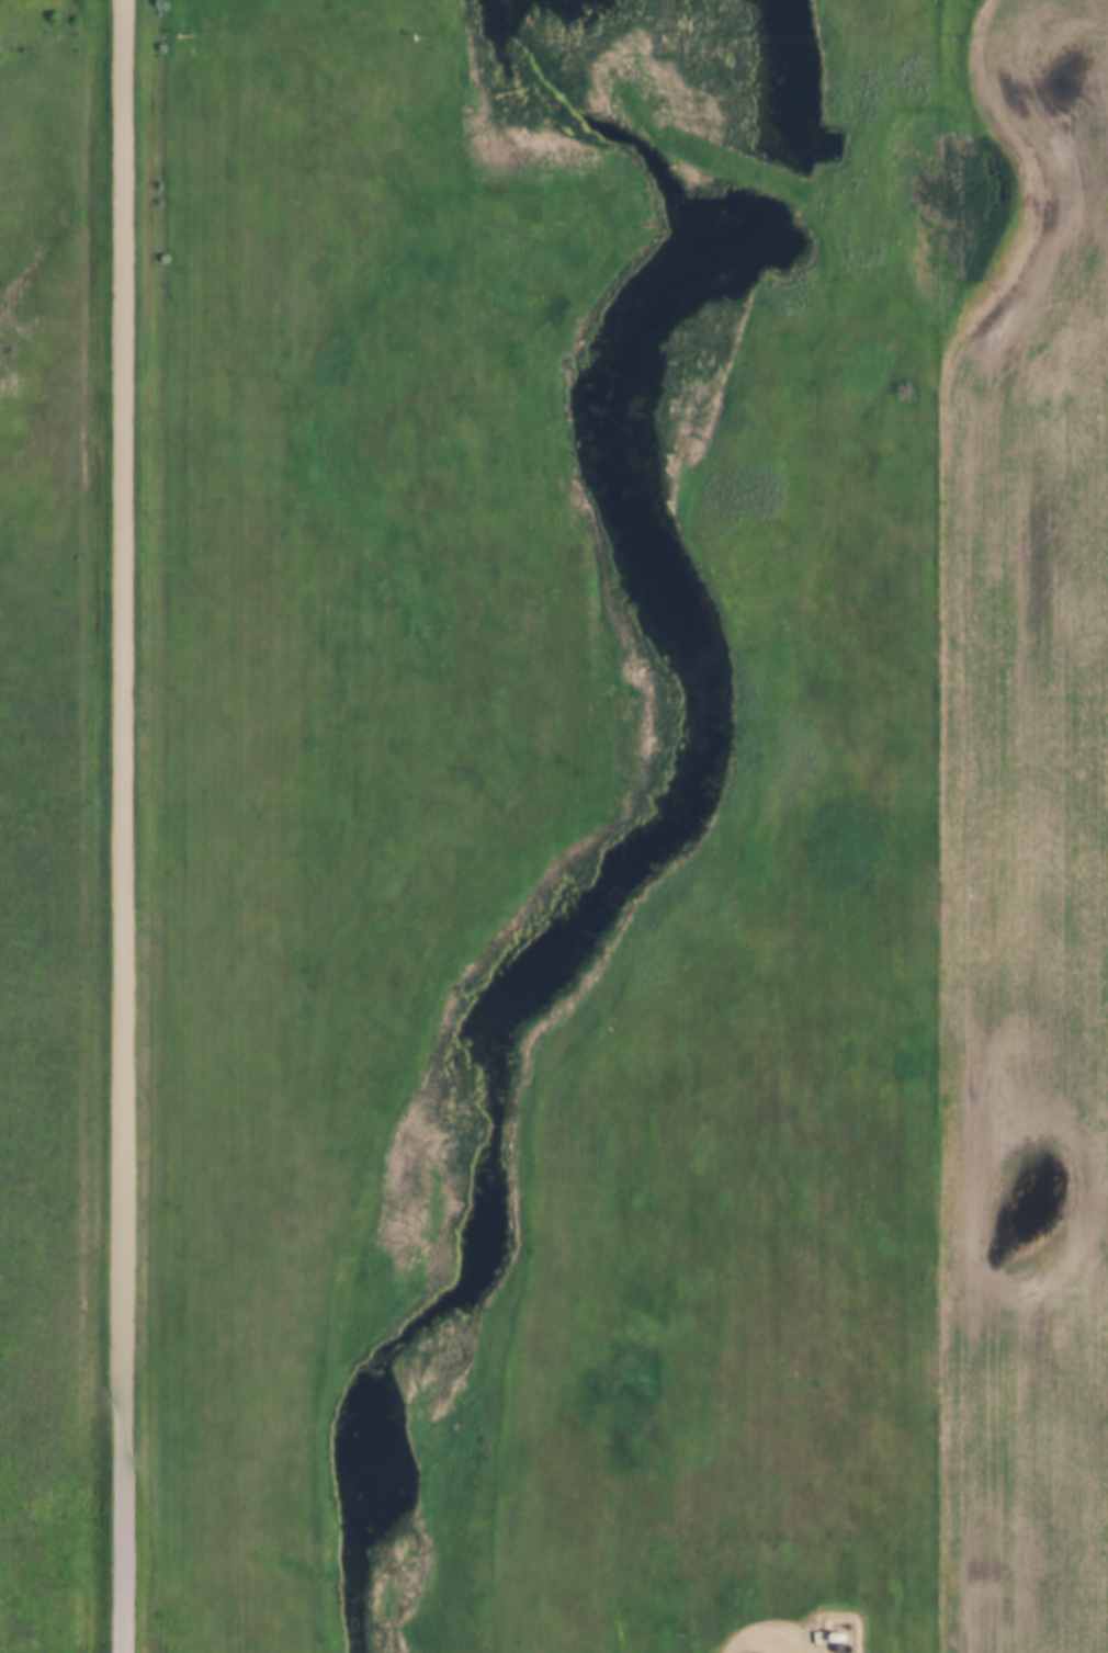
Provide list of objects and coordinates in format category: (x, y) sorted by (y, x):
road: (124, 826)
road: (810, 1651)

